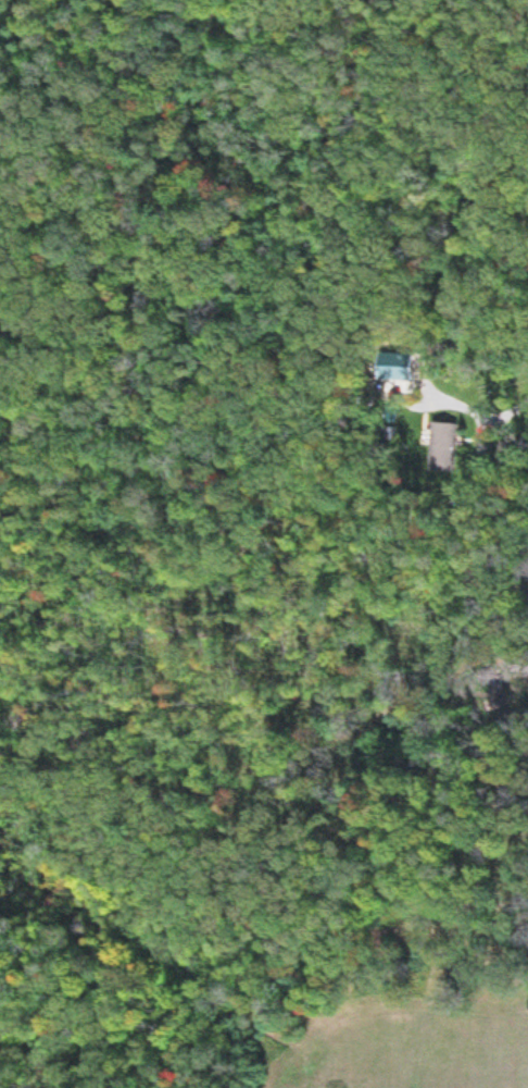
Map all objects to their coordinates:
building: (444, 449)

